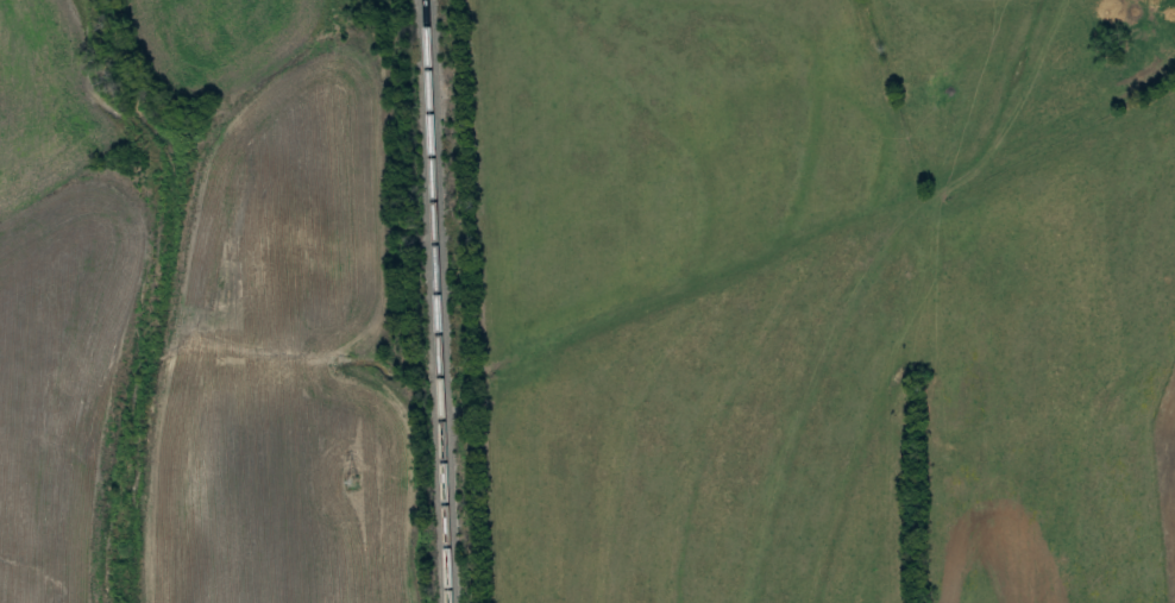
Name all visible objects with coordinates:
railway: (436, 301)
power tower: (350, 483)

